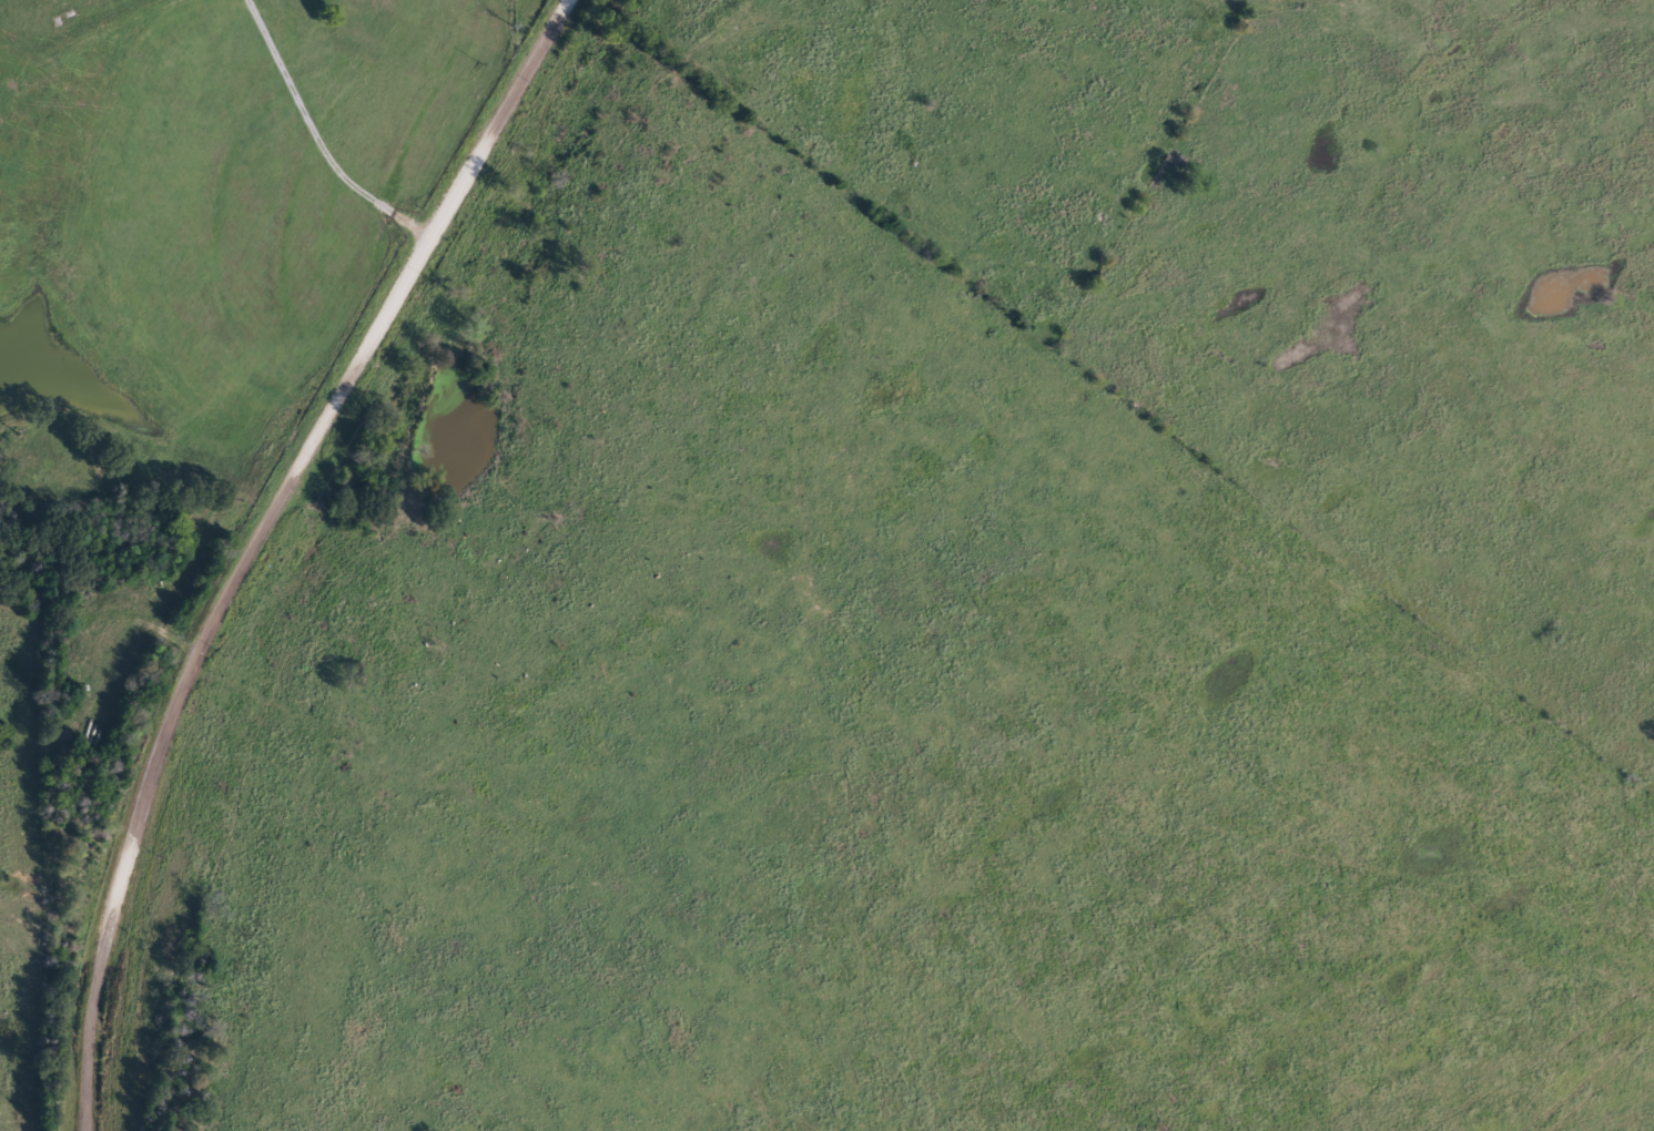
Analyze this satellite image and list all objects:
road: (244, 528)

